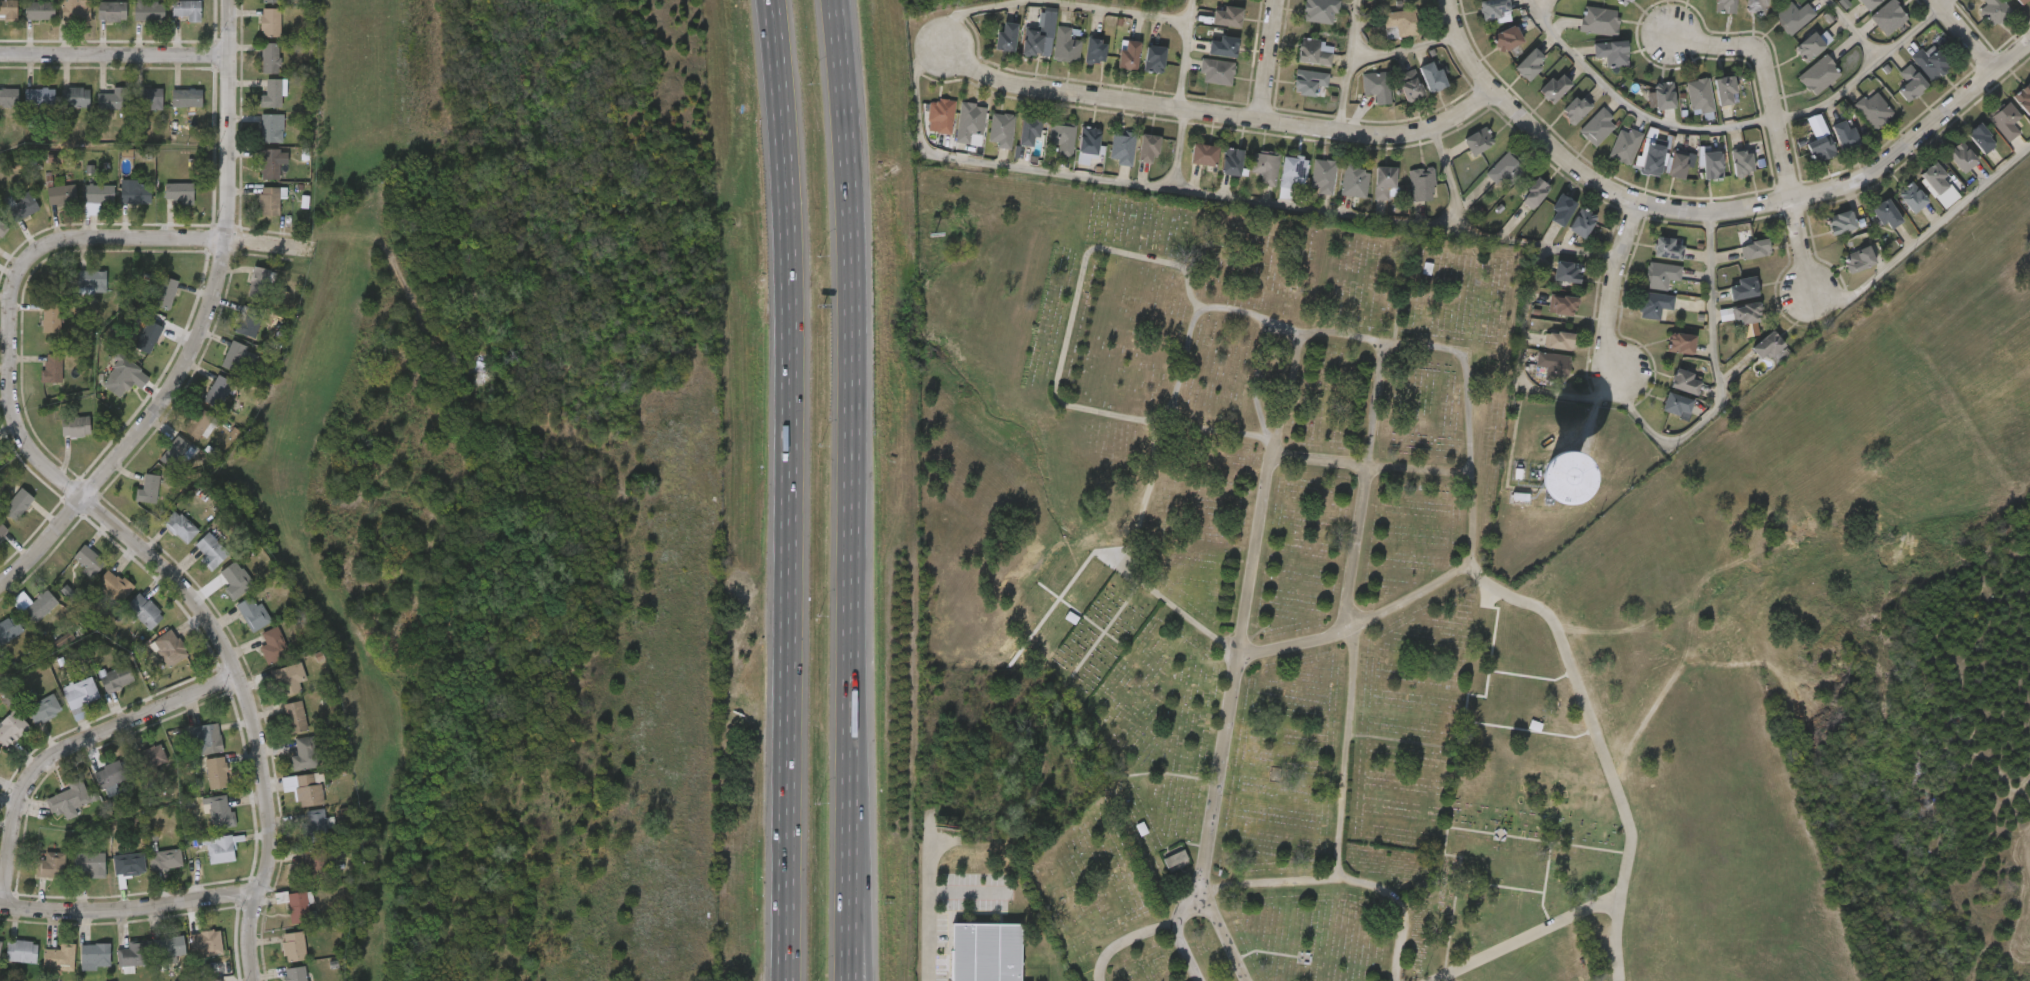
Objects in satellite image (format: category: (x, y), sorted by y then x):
building: (271, 0)
building: (1620, 1)
building: (2019, 1)
building: (2025, 1)
building: (1634, 2)
building: (1868, 2)
road: (1941, 2)
building: (1757, 3)
building: (1726, 4)
building: (1676, 5)
road: (1544, 6)
building: (1491, 7)
building: (8, 8)
building: (1320, 8)
building: (39, 9)
building: (76, 9)
building: (149, 9)
building: (187, 9)
road: (1132, 9)
building: (1995, 9)
building: (111, 10)
road: (962, 10)
building: (1854, 13)
building: (1889, 13)
building: (1226, 14)
building: (1795, 14)
building: (1708, 17)
building: (1599, 18)
building: (1739, 18)
building: (1396, 21)
building: (270, 22)
building: (1976, 25)
road: (1856, 27)
building: (1039, 30)
building: (1006, 35)
building: (1777, 35)
building: (1871, 35)
building: (1505, 36)
road: (1965, 36)
building: (1582, 39)
building: (1064, 41)
building: (1809, 43)
building: (1222, 44)
road: (1402, 46)
building: (1314, 49)
building: (1609, 49)
building: (1095, 50)
building: (1127, 53)
road: (1183, 54)
road: (115, 55)
building: (1153, 56)
building: (271, 57)
road: (1268, 60)
building: (1529, 61)
building: (1929, 62)
building: (1792, 63)
road: (1346, 65)
building: (1217, 67)
road: (1862, 69)
building: (1594, 71)
building: (1818, 72)
building: (1432, 76)
building: (1308, 79)
road: (1768, 81)
building: (1376, 82)
building: (1911, 82)
building: (1410, 86)
building: (1552, 86)
building: (1723, 88)
building: (1697, 90)
building: (272, 92)
building: (1661, 92)
building: (1802, 93)
building: (8, 96)
building: (39, 96)
building: (74, 96)
building: (2023, 96)
building: (113, 97)
building: (149, 97)
building: (186, 97)
building: (1893, 101)
road: (1633, 104)
building: (1575, 105)
building: (1537, 106)
building: (1707, 108)
building: (1874, 108)
building: (939, 113)
building: (1683, 113)
building: (1646, 114)
road: (1221, 115)
building: (968, 118)
building: (2005, 119)
building: (1597, 122)
building: (999, 126)
building: (1028, 126)
building: (272, 127)
building: (1558, 127)
building: (1856, 128)
building: (1061, 132)
building: (1842, 132)
building: (1088, 137)
building: (1979, 137)
building: (1476, 139)
building: (1626, 140)
building: (1123, 142)
building: (1148, 143)
building: (1580, 145)
building: (1816, 146)
road: (1177, 150)
building: (1202, 152)
building: (1652, 154)
building: (1828, 154)
building: (1961, 155)
building: (1802, 158)
building: (1229, 159)
building: (1741, 161)
building: (270, 162)
building: (1677, 162)
building: (1710, 162)
building: (1608, 164)
building: (1264, 165)
building: (1504, 167)
building: (1290, 170)
building: (1322, 173)
building: (1351, 174)
building: (1944, 175)
building: (1637, 176)
building: (1932, 177)
building: (1382, 180)
building: (1421, 180)
road: (1451, 180)
building: (1725, 180)
building: (1664, 181)
building: (1695, 183)
building: (1532, 190)
building: (179, 192)
building: (62, 193)
building: (136, 193)
building: (97, 196)
road: (1210, 196)
building: (1910, 196)
building: (269, 200)
building: (23, 206)
building: (1522, 207)
building: (1561, 207)
building: (1885, 210)
road: (1716, 211)
road: (1940, 216)
building: (1582, 218)
building: (1838, 220)
building: (3, 227)
building: (1545, 227)
building: (1869, 231)
building: (1565, 240)
building: (1824, 240)
building: (1665, 244)
building: (1755, 247)
road: (1801, 248)
road: (35, 255)
building: (1859, 257)
building: (1650, 266)
building: (1738, 267)
building: (1566, 269)
road: (220, 270)
building: (1662, 270)
building: (1842, 277)
building: (91, 278)
building: (259, 284)
building: (1743, 285)
road: (1615, 287)
building: (1550, 289)
building: (165, 292)
building: (1644, 293)
road: (1830, 294)
building: (1653, 300)
building: (1563, 301)
building: (1726, 306)
road: (1225, 307)
building: (1746, 310)
building: (51, 316)
building: (249, 321)
building: (1545, 323)
building: (1638, 323)
building: (1730, 331)
building: (148, 336)
building: (1559, 338)
building: (1681, 340)
building: (1766, 343)
building: (239, 356)
building: (1552, 359)
building: (1665, 361)
building: (1751, 363)
road: (1518, 364)
building: (52, 366)
road: (1720, 377)
building: (1685, 378)
building: (120, 381)
building: (1537, 382)
building: (217, 390)
building: (1675, 399)
building: (1660, 423)
building: (199, 424)
building: (75, 426)
road: (1264, 442)
building: (177, 453)
building: (1533, 485)
road: (1364, 486)
water tower: (1531, 487)
building: (148, 489)
road: (789, 490)
road: (851, 490)
road: (1263, 495)
building: (17, 503)
building: (180, 525)
building: (2, 528)
road: (43, 543)
building: (211, 550)
building: (88, 559)
building: (236, 577)
building: (114, 584)
building: (34, 604)
building: (145, 610)
building: (253, 612)
building: (9, 629)
park: (1350, 640)
building: (273, 645)
building: (170, 647)
building: (116, 677)
building: (289, 678)
building: (80, 692)
road: (1584, 707)
building: (44, 708)
road: (253, 709)
building: (295, 716)
building: (11, 727)
building: (206, 737)
road: (70, 748)
building: (0, 751)
building: (305, 752)
building: (152, 755)
building: (113, 772)
building: (216, 772)
building: (305, 787)
building: (68, 795)
building: (221, 811)
road: (1341, 823)
building: (314, 826)
road: (1204, 844)
building: (221, 848)
building: (165, 859)
building: (315, 861)
building: (1176, 862)
building: (89, 863)
building: (128, 863)
building: (52, 865)
road: (1268, 882)
road: (967, 892)
road: (934, 903)
building: (298, 907)
road: (130, 909)
road: (864, 915)
road: (1564, 920)
road: (1220, 933)
building: (1, 942)
building: (206, 943)
building: (294, 946)
building: (170, 947)
building: (21, 951)
building: (984, 952)
road: (1184, 952)
building: (95, 954)
building: (133, 954)
building: (61, 956)
building: (296, 973)

